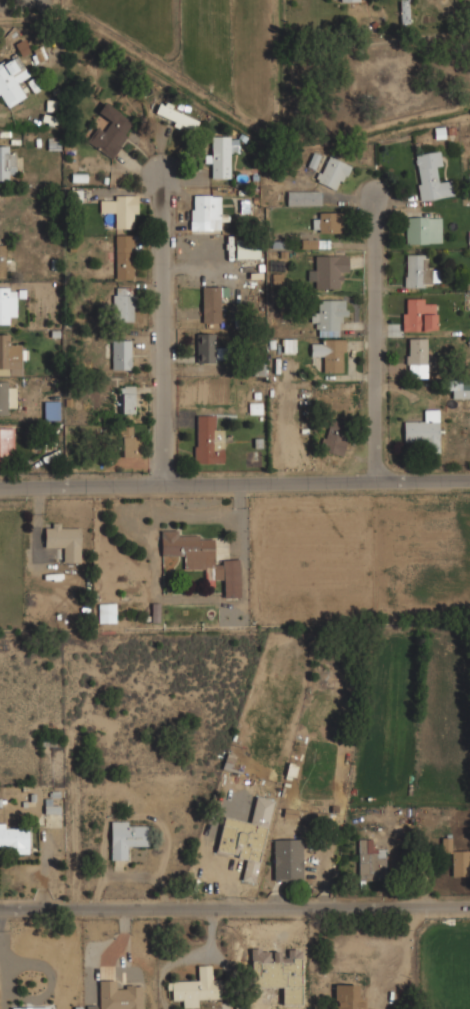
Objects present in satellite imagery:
building: (344, 0)
building: (403, 5)
building: (22, 47)
building: (11, 80)
building: (176, 117)
building: (110, 131)
building: (221, 155)
building: (6, 161)
building: (331, 172)
building: (429, 177)
building: (303, 198)
building: (120, 209)
building: (203, 212)
building: (326, 221)
building: (422, 228)
building: (309, 243)
building: (246, 249)
building: (124, 256)
building: (2, 260)
building: (329, 270)
building: (420, 271)
building: (211, 303)
building: (122, 304)
building: (7, 305)
building: (417, 315)
building: (327, 316)
road: (167, 334)
road: (373, 343)
building: (206, 347)
building: (415, 351)
building: (120, 354)
building: (328, 354)
building: (9, 357)
building: (460, 390)
building: (5, 397)
building: (125, 399)
building: (423, 431)
building: (333, 439)
building: (207, 440)
building: (126, 441)
building: (6, 444)
road: (234, 487)
building: (64, 540)
building: (201, 558)
building: (107, 612)
building: (238, 618)
building: (228, 761)
building: (50, 807)
building: (13, 837)
building: (246, 837)
building: (125, 838)
building: (446, 845)
building: (369, 859)
building: (287, 860)
building: (460, 863)
road: (235, 909)
building: (197, 988)
building: (119, 996)
building: (347, 997)
building: (30, 1007)

